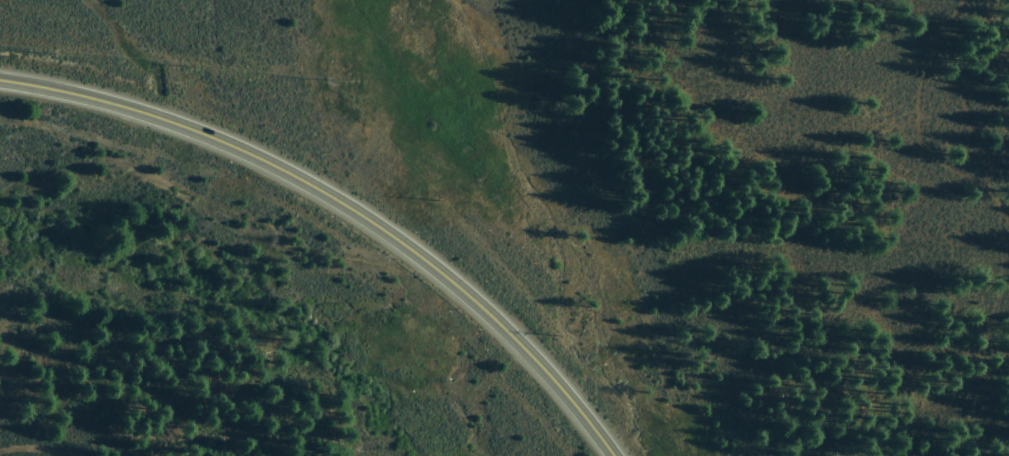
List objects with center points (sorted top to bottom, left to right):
power tower: (325, 81)
road: (917, 122)
road: (342, 206)
road: (26, 453)

